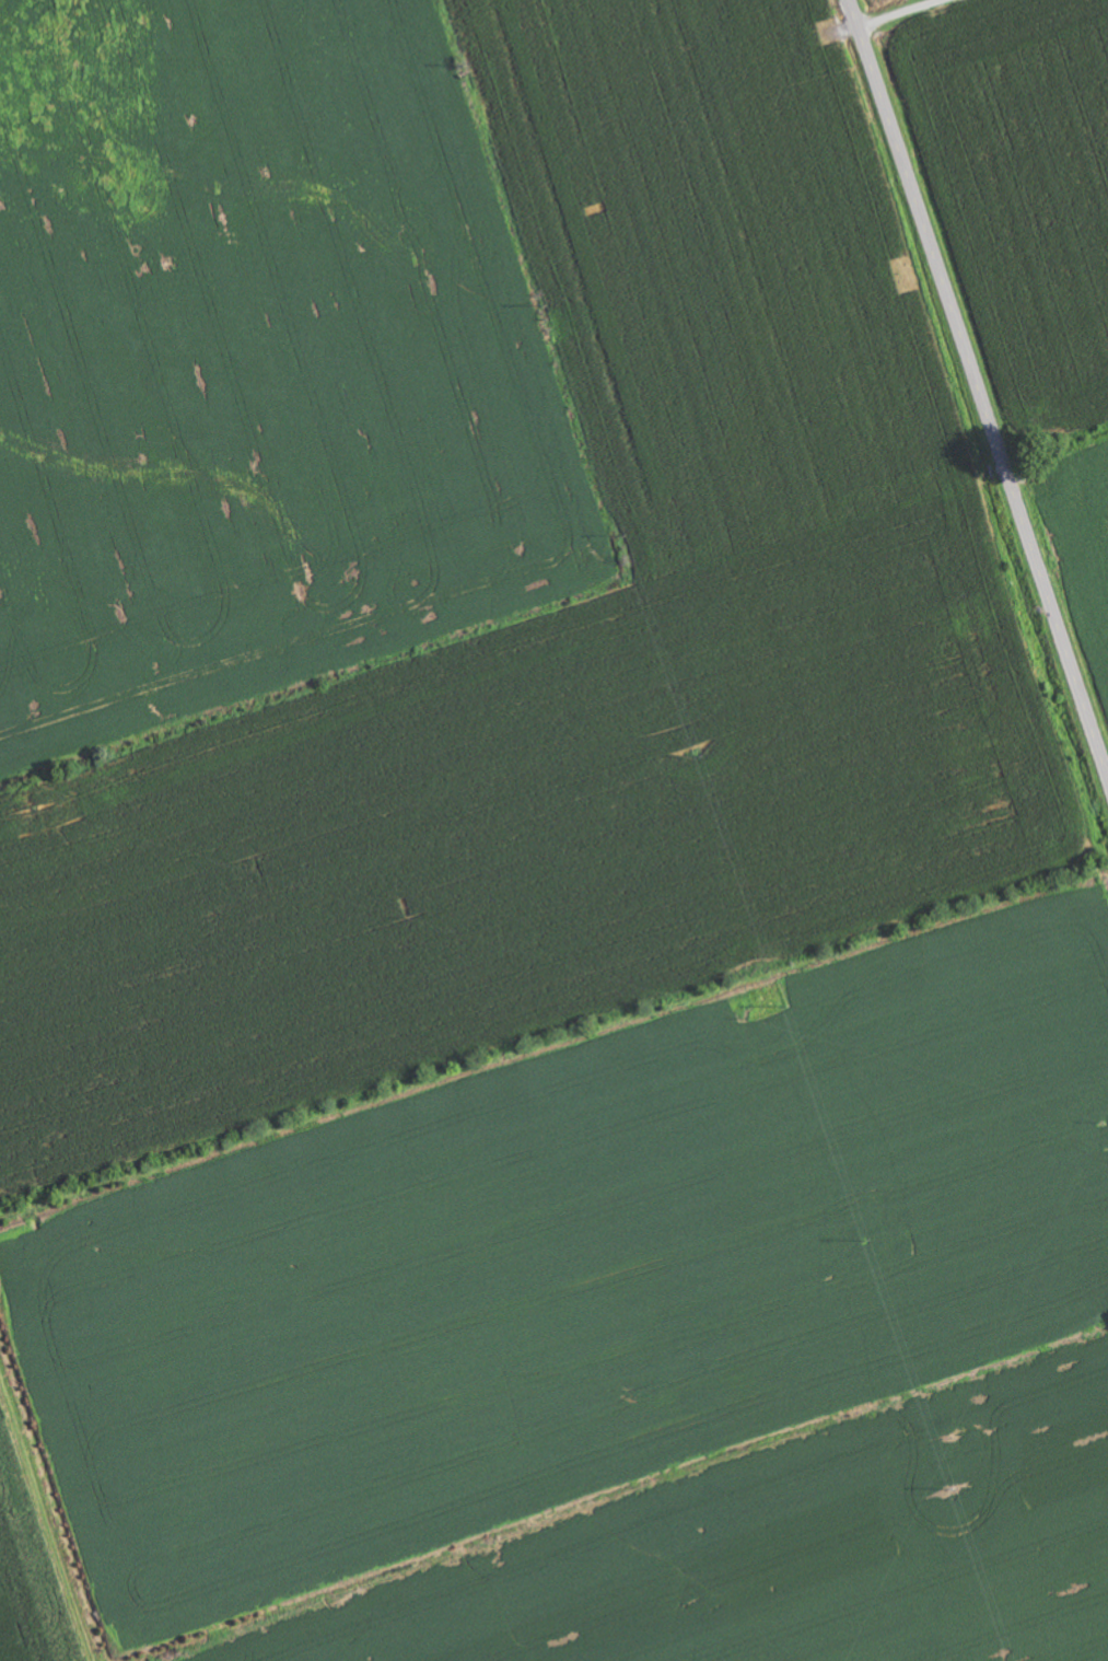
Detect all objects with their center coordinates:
road: (978, 387)

